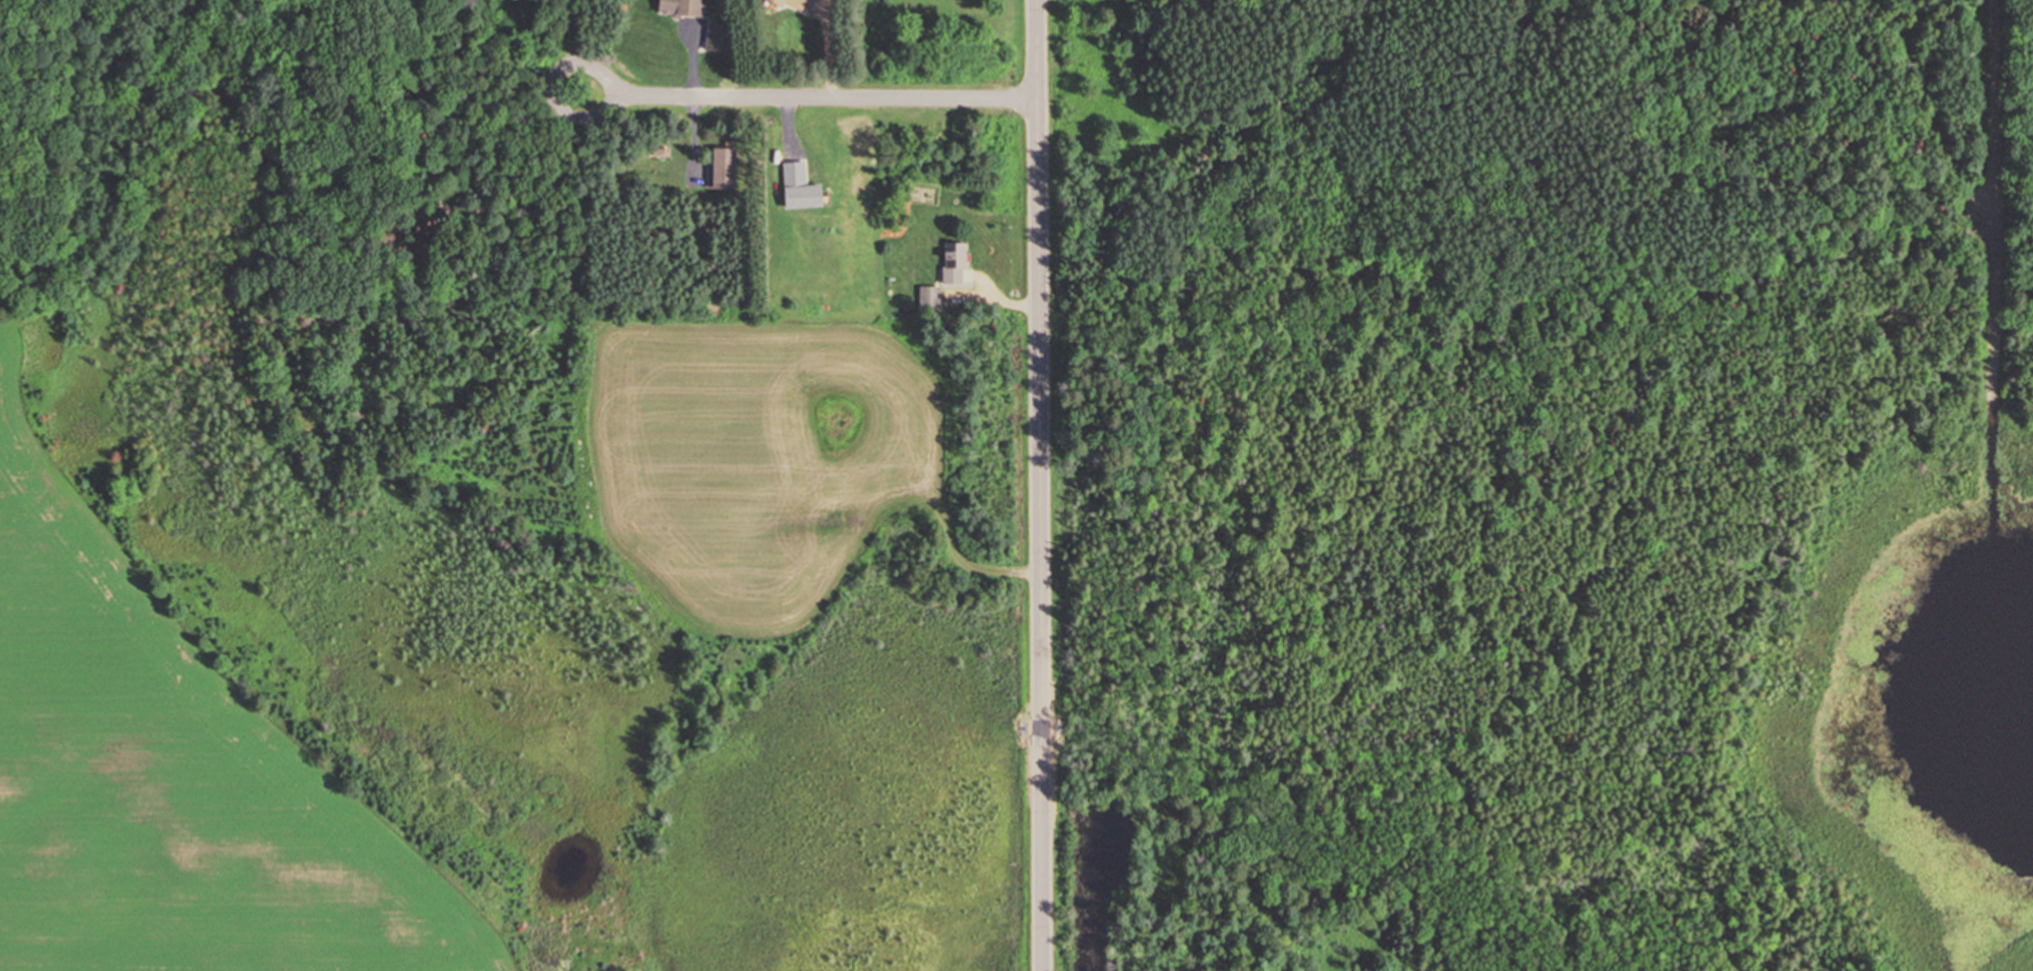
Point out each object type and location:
building: (791, 4)
building: (683, 7)
building: (716, 37)
road: (798, 96)
building: (722, 168)
building: (798, 187)
road: (1998, 210)
building: (953, 263)
road: (1041, 485)

